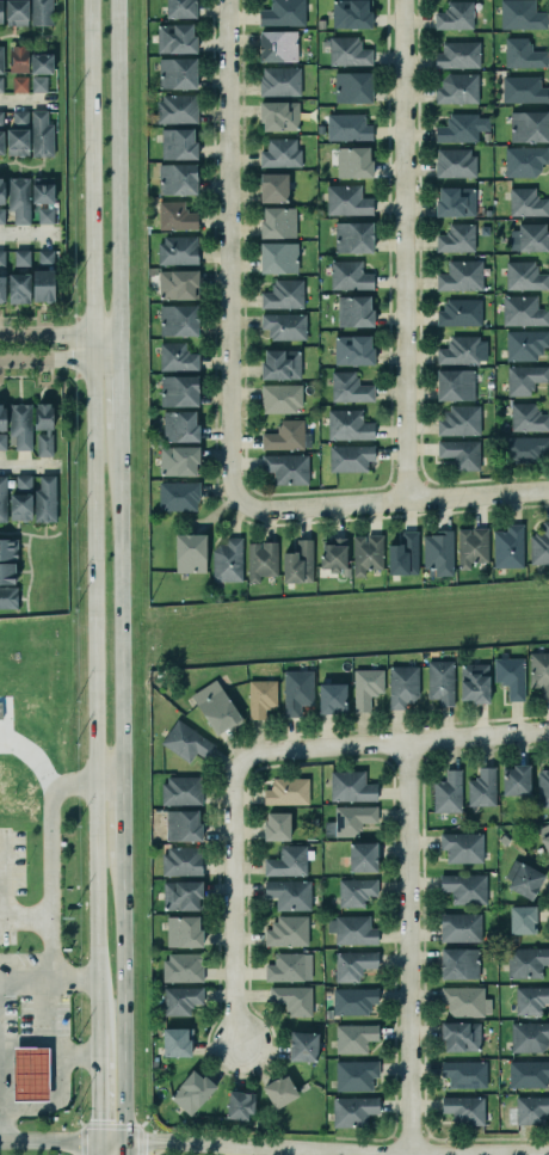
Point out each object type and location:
building: (180, 8)
building: (0, 12)
building: (17, 12)
building: (41, 12)
building: (282, 13)
building: (350, 13)
building: (520, 14)
building: (455, 16)
road: (24, 37)
building: (174, 37)
building: (278, 45)
building: (347, 51)
building: (523, 53)
building: (14, 55)
building: (37, 55)
building: (457, 55)
building: (1, 60)
building: (177, 72)
building: (279, 80)
building: (20, 84)
building: (38, 84)
building: (1, 85)
building: (352, 86)
building: (457, 88)
building: (522, 88)
road: (26, 102)
building: (175, 109)
building: (279, 115)
building: (20, 117)
building: (1, 118)
building: (529, 125)
building: (347, 127)
building: (461, 127)
building: (0, 130)
building: (39, 133)
building: (486, 136)
building: (17, 142)
building: (178, 143)
building: (1, 145)
building: (280, 153)
building: (524, 160)
building: (353, 161)
building: (454, 162)
road: (20, 165)
road: (119, 167)
building: (177, 178)
building: (41, 188)
building: (273, 188)
building: (1, 190)
building: (17, 197)
building: (346, 199)
building: (455, 201)
building: (487, 202)
building: (526, 202)
building: (43, 214)
building: (1, 215)
building: (174, 216)
building: (278, 222)
building: (483, 231)
road: (26, 234)
building: (353, 236)
building: (532, 236)
building: (456, 238)
building: (177, 250)
road: (405, 250)
road: (228, 251)
building: (277, 257)
building: (1, 258)
building: (21, 258)
building: (42, 275)
building: (348, 275)
building: (461, 275)
building: (524, 276)
building: (178, 284)
building: (19, 288)
building: (1, 289)
building: (283, 294)
building: (354, 311)
building: (523, 311)
building: (459, 312)
road: (18, 318)
building: (178, 319)
road: (48, 324)
building: (284, 325)
road: (60, 334)
building: (525, 344)
road: (119, 348)
building: (352, 349)
building: (458, 351)
building: (177, 356)
road: (60, 361)
building: (280, 363)
road: (18, 377)
building: (524, 377)
road: (48, 382)
building: (455, 385)
building: (348, 388)
building: (178, 389)
building: (279, 398)
road: (119, 411)
building: (2, 417)
building: (528, 418)
building: (459, 420)
building: (19, 423)
building: (179, 425)
building: (348, 425)
building: (45, 429)
building: (286, 436)
building: (2, 441)
building: (525, 448)
building: (459, 453)
building: (350, 457)
building: (178, 460)
road: (27, 465)
building: (288, 468)
building: (178, 494)
building: (43, 497)
building: (1, 498)
building: (19, 498)
road: (393, 499)
road: (92, 527)
road: (29, 533)
building: (539, 545)
building: (471, 546)
building: (508, 546)
building: (7, 547)
building: (190, 552)
building: (438, 552)
building: (365, 553)
building: (333, 554)
building: (403, 554)
building: (227, 560)
building: (261, 560)
building: (298, 563)
road: (29, 572)
building: (7, 573)
building: (7, 596)
road: (121, 623)
building: (539, 671)
building: (510, 676)
building: (440, 681)
building: (474, 682)
building: (402, 686)
building: (365, 687)
building: (296, 690)
building: (260, 698)
building: (331, 698)
building: (215, 706)
building: (186, 741)
road: (252, 756)
building: (516, 780)
road: (109, 785)
building: (351, 786)
building: (481, 787)
building: (543, 787)
building: (181, 791)
building: (286, 791)
building: (446, 792)
building: (347, 821)
building: (181, 824)
building: (276, 825)
building: (544, 835)
road: (123, 837)
building: (502, 840)
building: (462, 847)
road: (49, 854)
building: (362, 856)
building: (181, 861)
building: (286, 861)
building: (523, 879)
building: (464, 887)
building: (354, 891)
building: (289, 893)
building: (181, 895)
road: (24, 915)
building: (522, 919)
building: (461, 927)
building: (352, 929)
building: (286, 930)
building: (183, 932)
road: (403, 950)
building: (526, 962)
road: (49, 963)
building: (458, 963)
building: (352, 965)
building: (181, 966)
building: (288, 966)
building: (530, 999)
building: (180, 1000)
building: (292, 1000)
building: (353, 1000)
building: (463, 1001)
road: (123, 1021)
building: (459, 1036)
building: (353, 1037)
building: (528, 1037)
building: (175, 1042)
building: (302, 1046)
road: (75, 1055)
road: (55, 1065)
building: (528, 1073)
building: (30, 1074)
building: (464, 1074)
building: (354, 1075)
building: (279, 1091)
building: (191, 1093)
road: (97, 1099)
building: (239, 1104)
building: (464, 1110)
building: (531, 1110)
building: (353, 1111)
road: (0, 1128)
road: (61, 1143)
road: (196, 1145)
road: (98, 1149)

